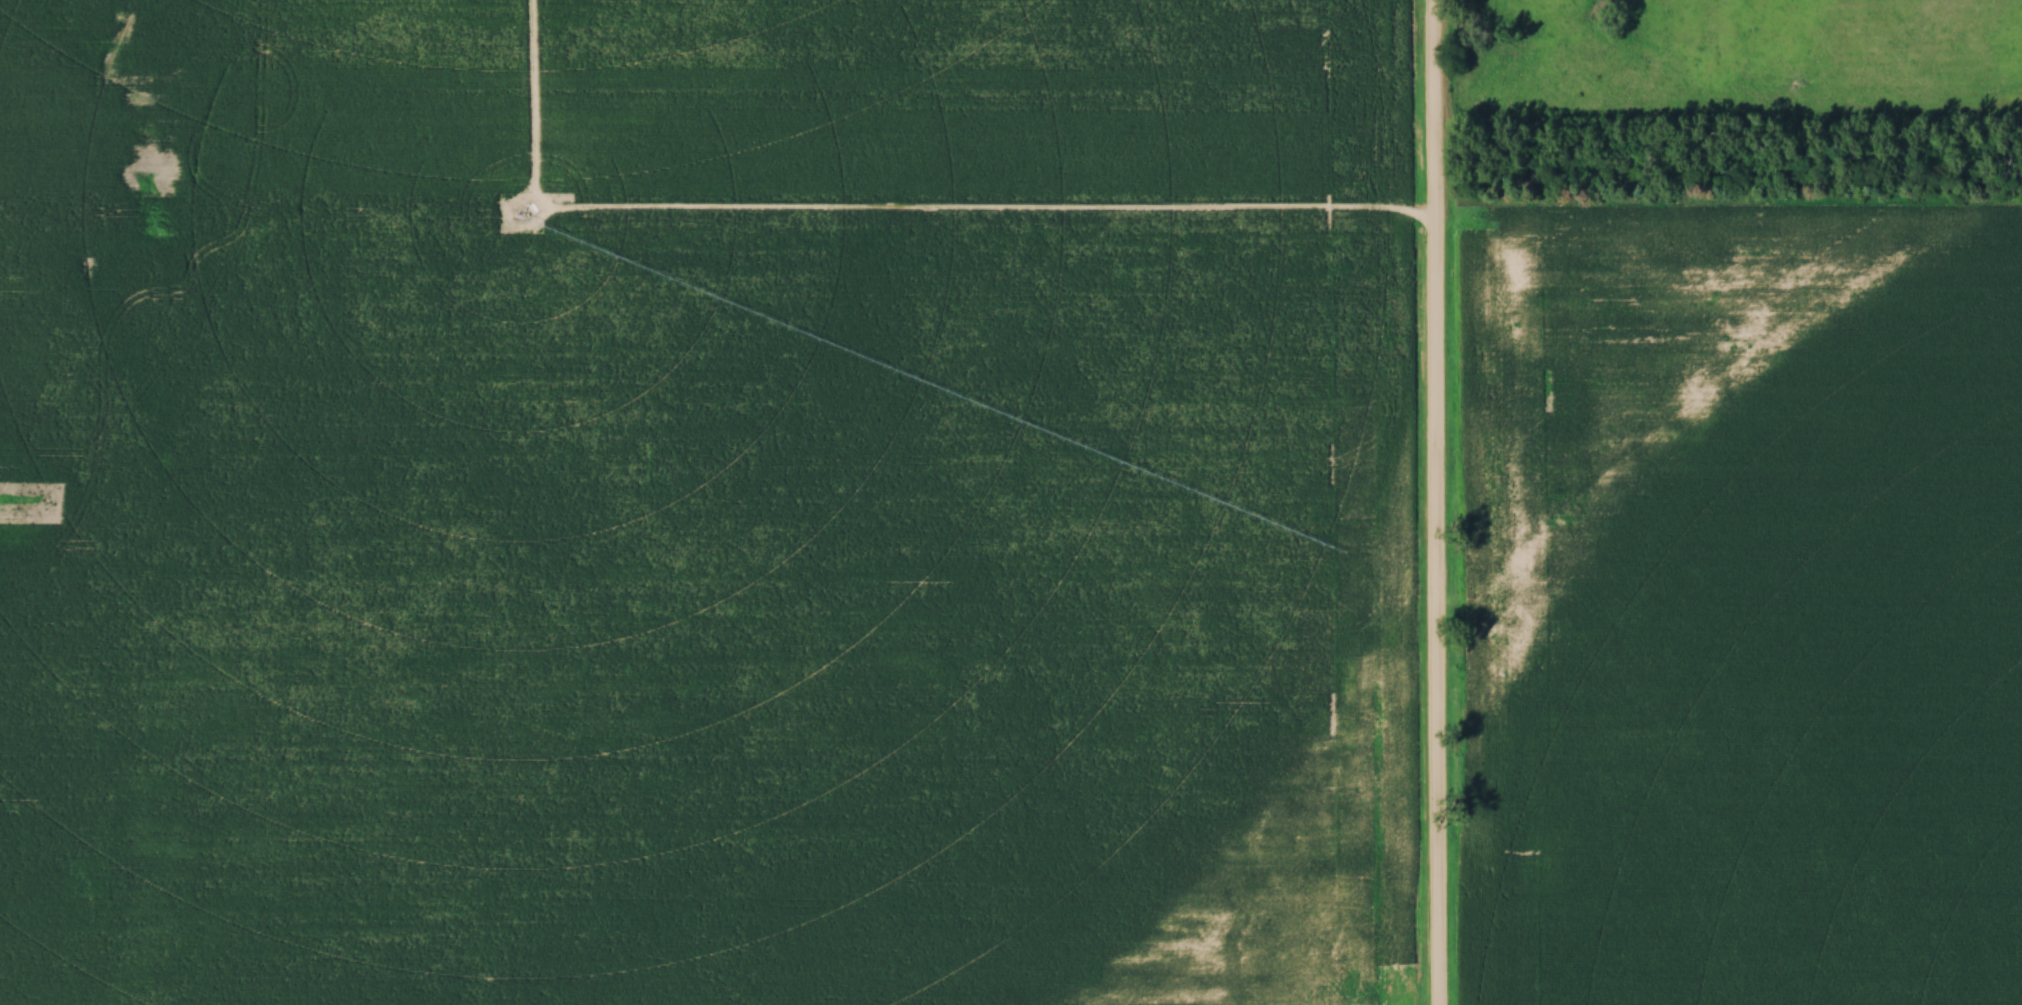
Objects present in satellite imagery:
road: (1438, 502)

